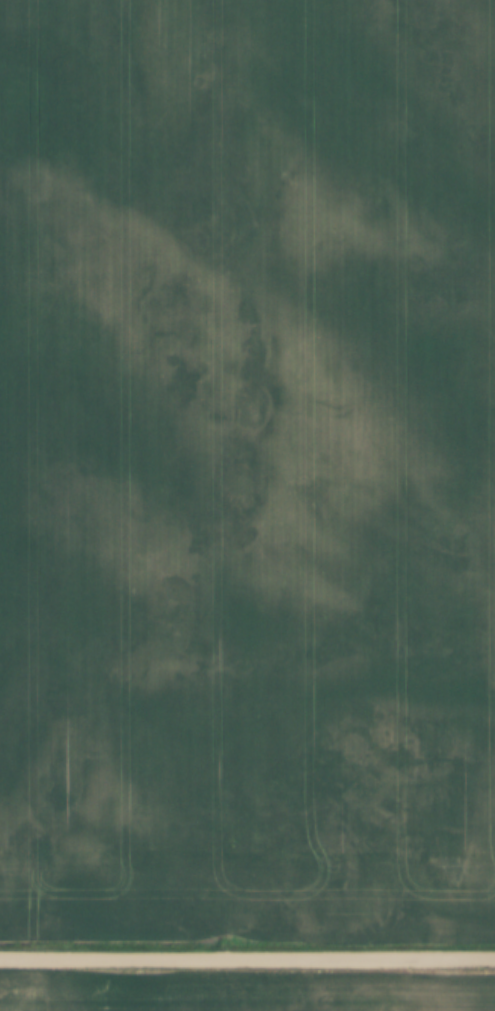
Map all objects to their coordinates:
road: (247, 955)

